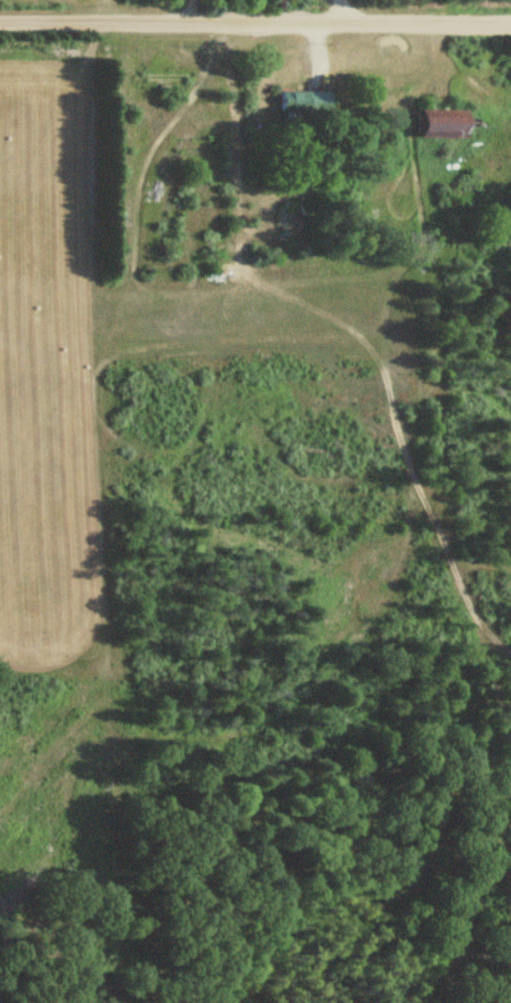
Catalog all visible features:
road: (255, 21)
building: (293, 102)
building: (438, 127)
building: (168, 192)

